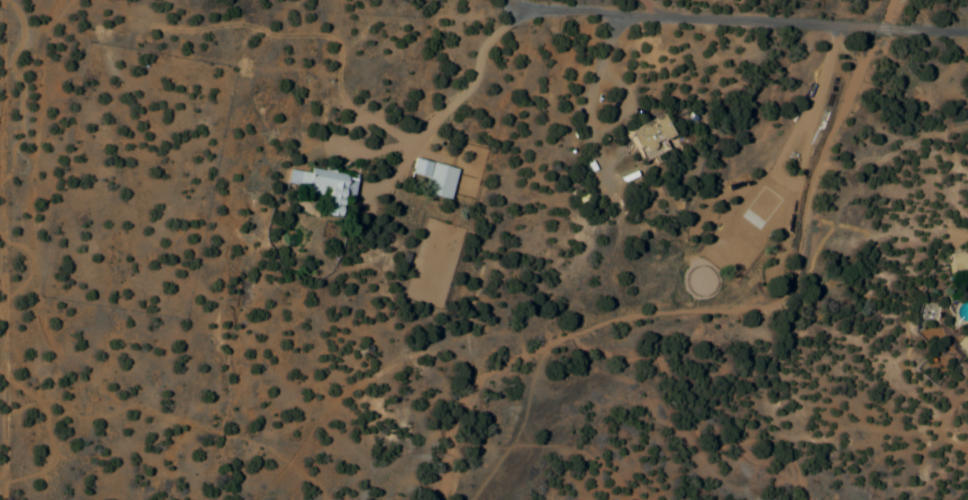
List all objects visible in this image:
road: (696, 20)
road: (930, 27)
road: (884, 28)
building: (645, 138)
building: (432, 178)
building: (319, 187)
building: (745, 226)
building: (957, 264)
building: (962, 347)

